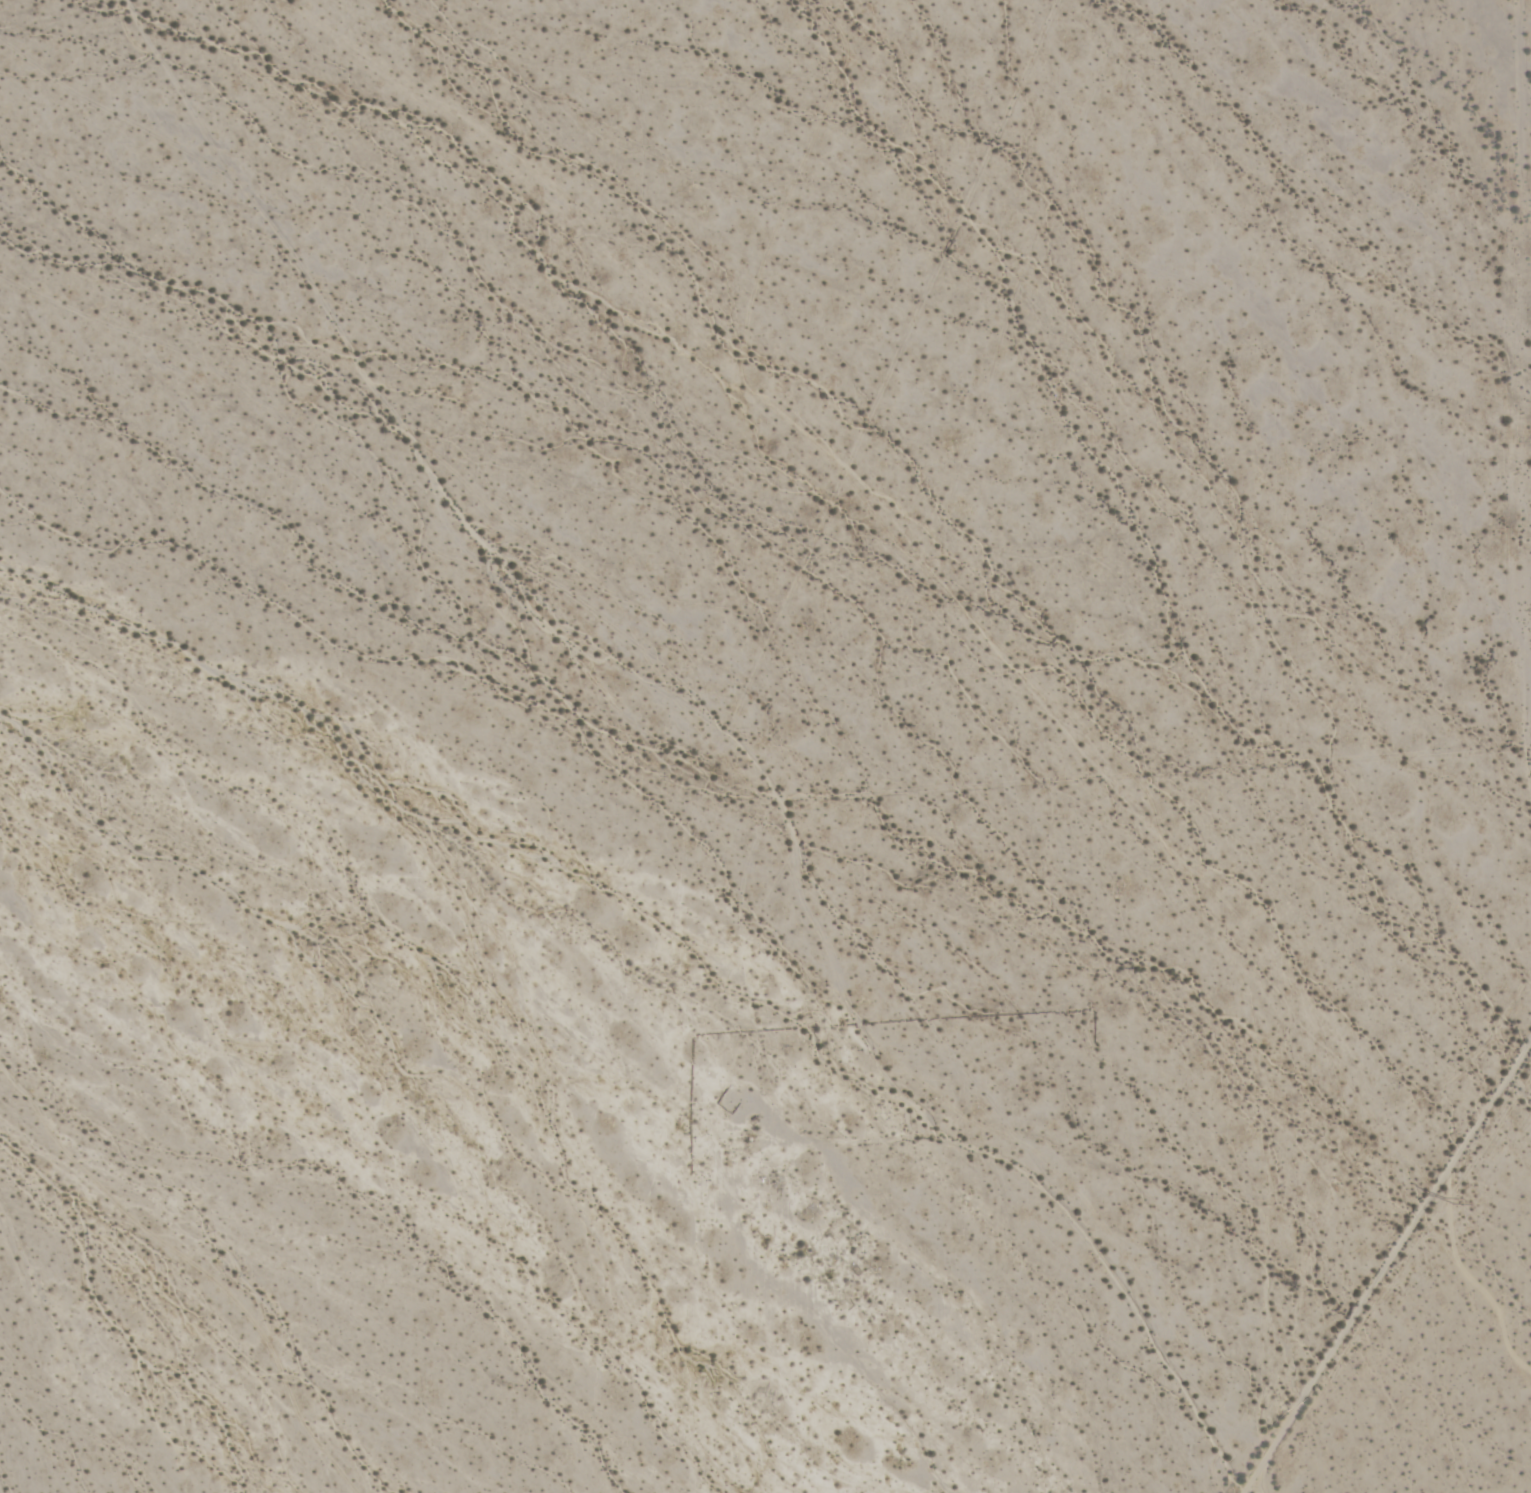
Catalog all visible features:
road: (1521, 208)
road: (1515, 377)
power tower: (1448, 1207)
road: (1386, 1263)

